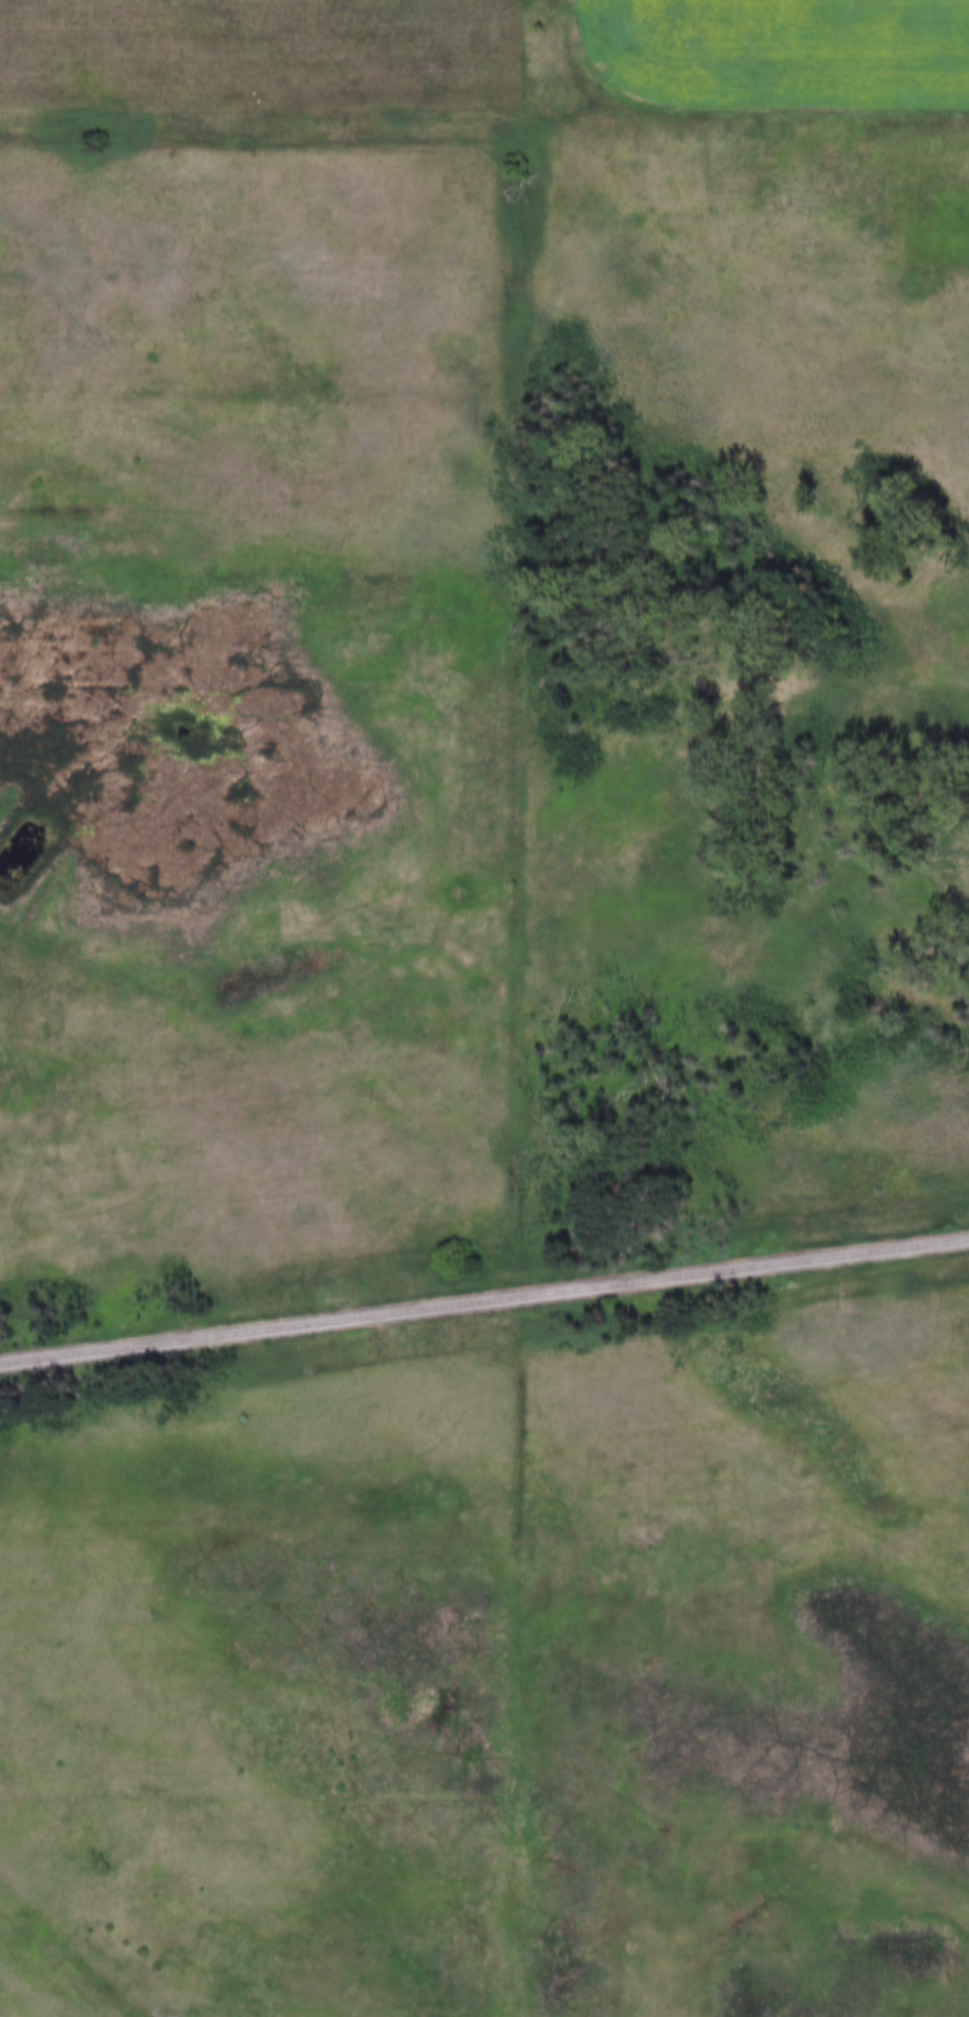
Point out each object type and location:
railway: (484, 1298)

